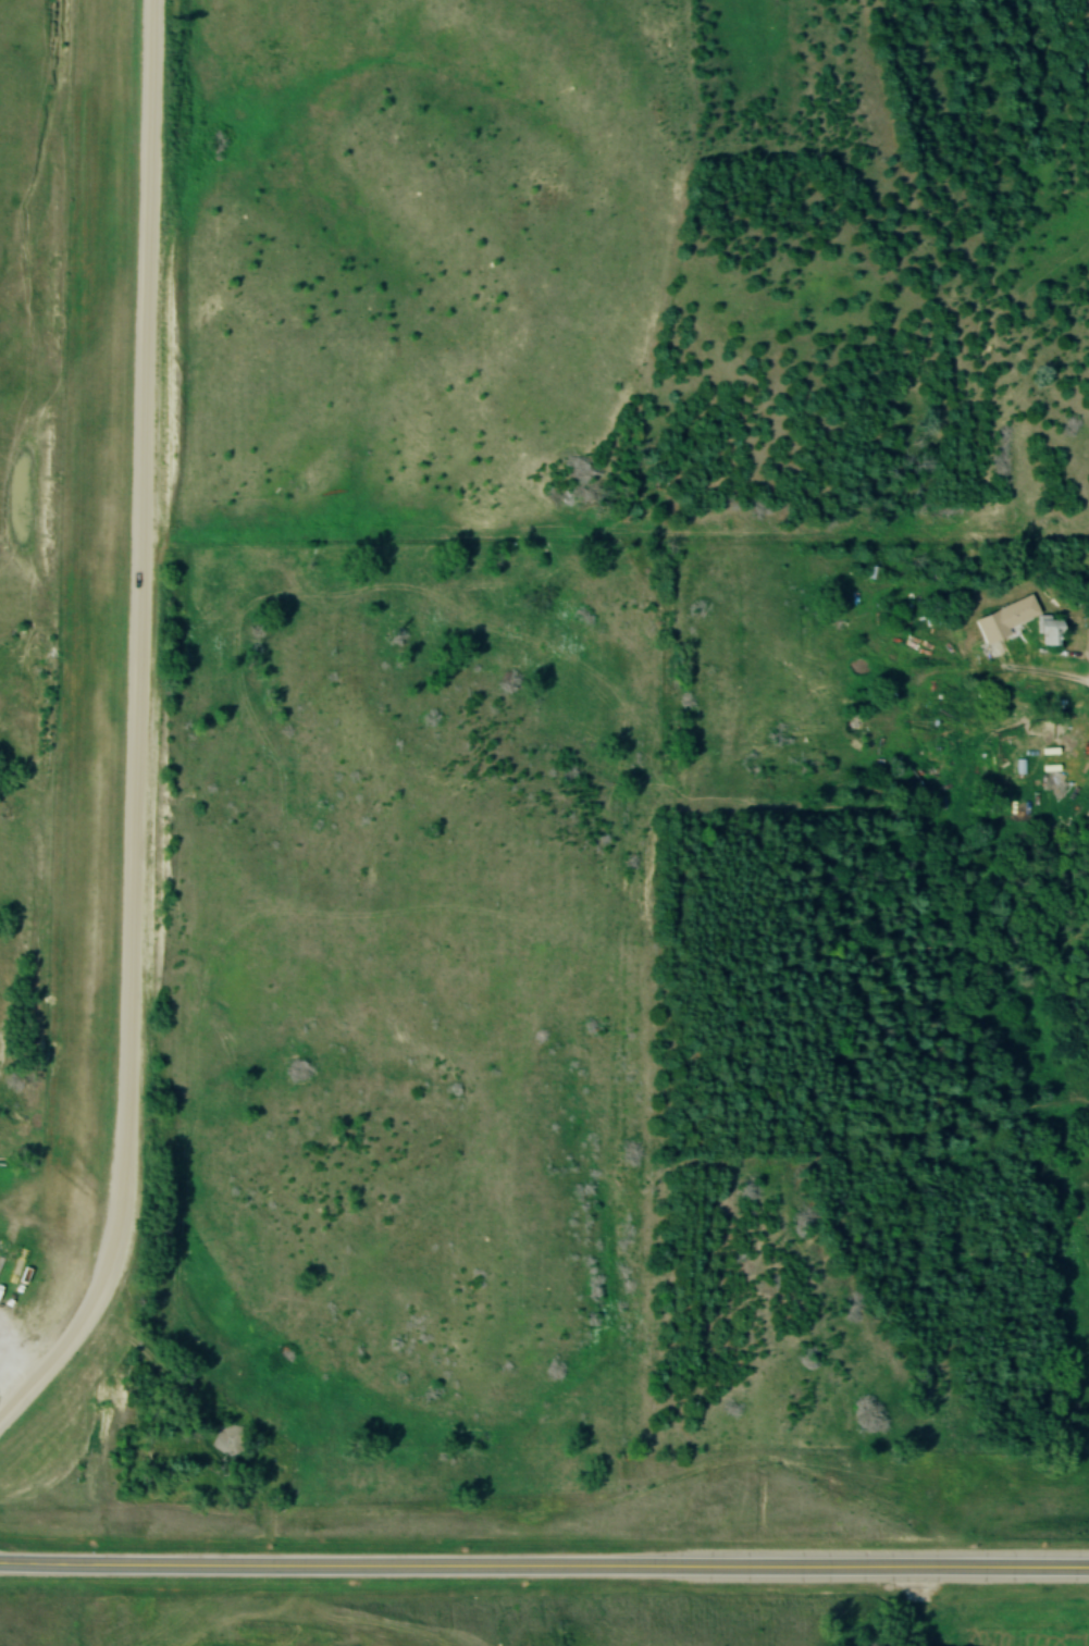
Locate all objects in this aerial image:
building: (1004, 619)
building: (1047, 633)
road: (1084, 661)
road: (134, 726)
building: (226, 1437)
road: (65, 1563)
road: (610, 1564)

